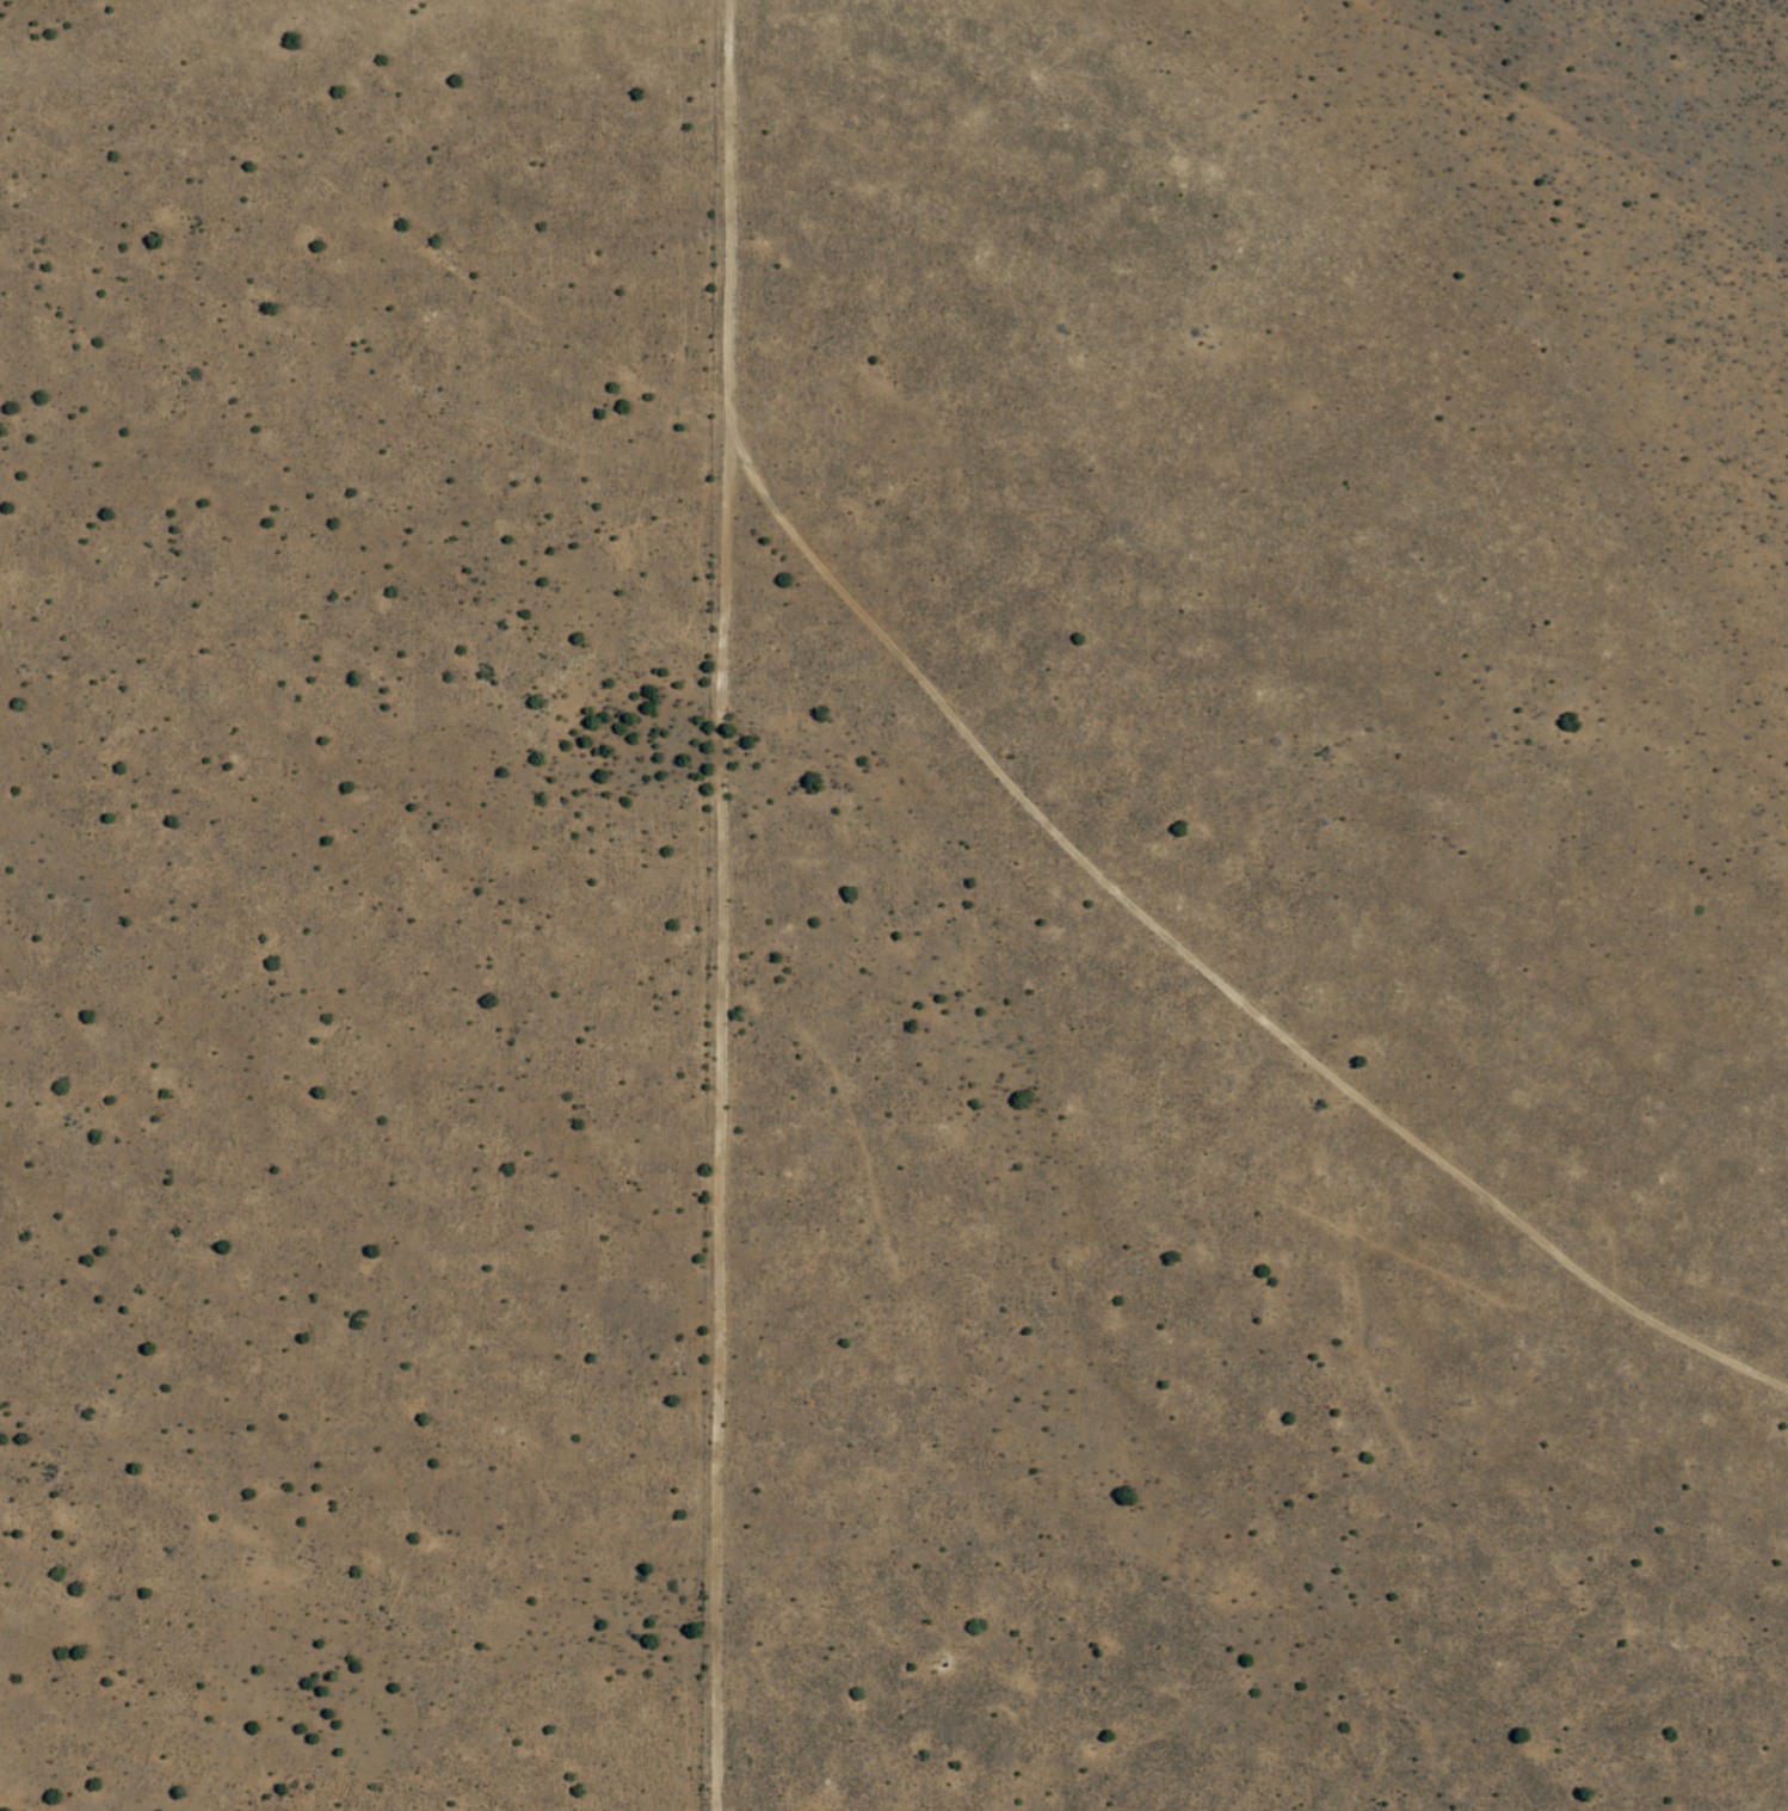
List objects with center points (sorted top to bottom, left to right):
road: (1078, 799)

